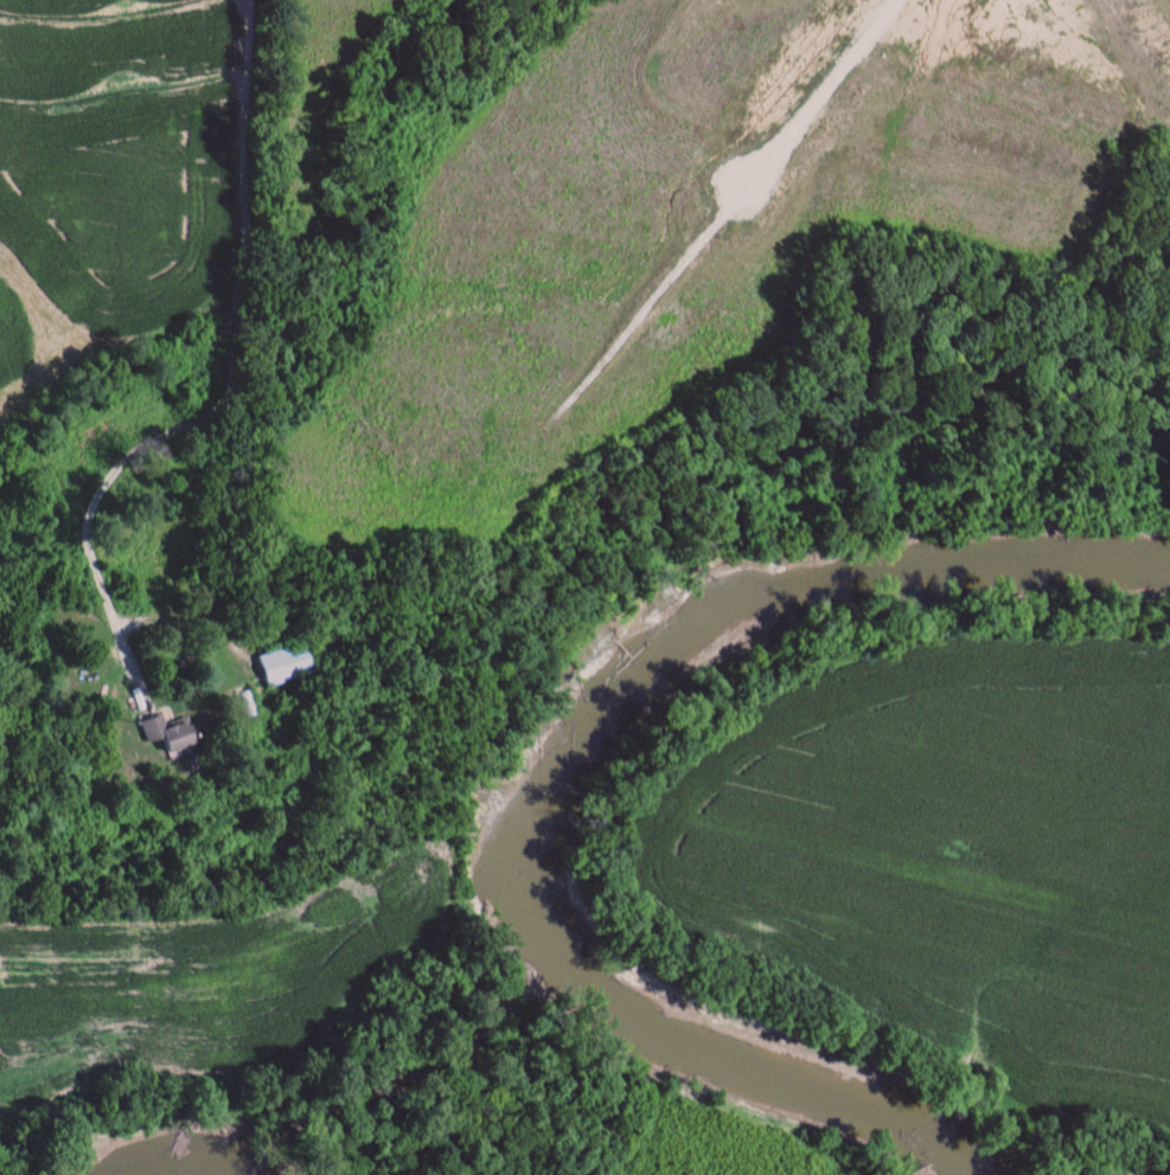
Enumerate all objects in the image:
road: (232, 386)
building: (284, 666)
building: (171, 733)

